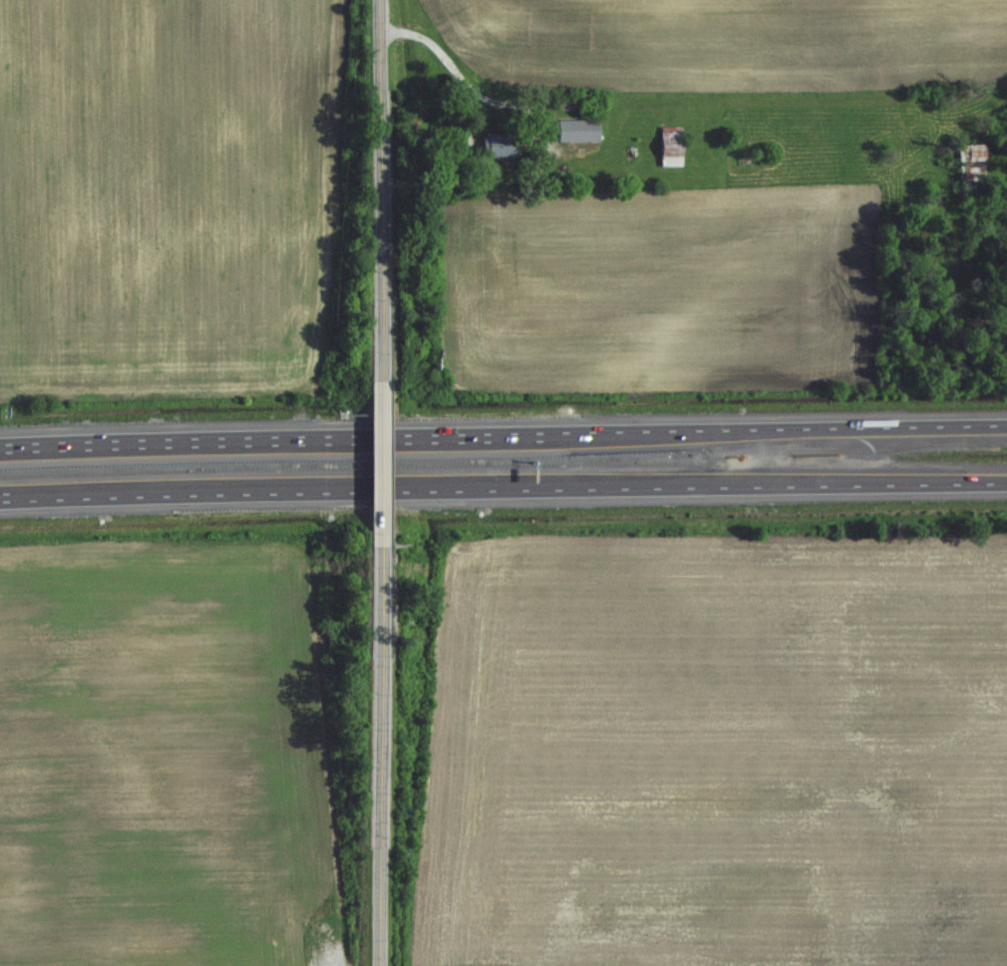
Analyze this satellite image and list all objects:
road: (455, 73)
building: (577, 131)
building: (499, 146)
building: (670, 146)
road: (378, 197)
road: (503, 433)
road: (378, 464)
road: (503, 489)
road: (378, 749)
building: (340, 930)

